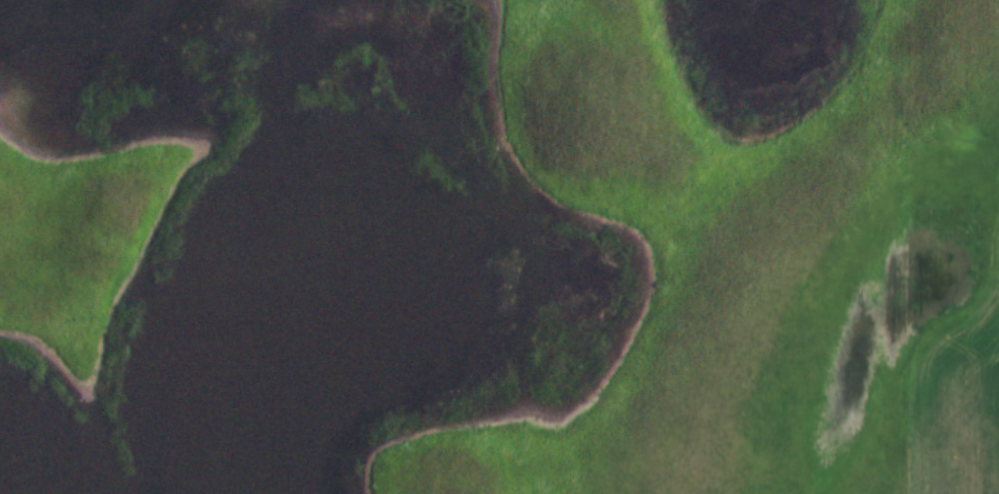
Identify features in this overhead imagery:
road: (902, 247)

